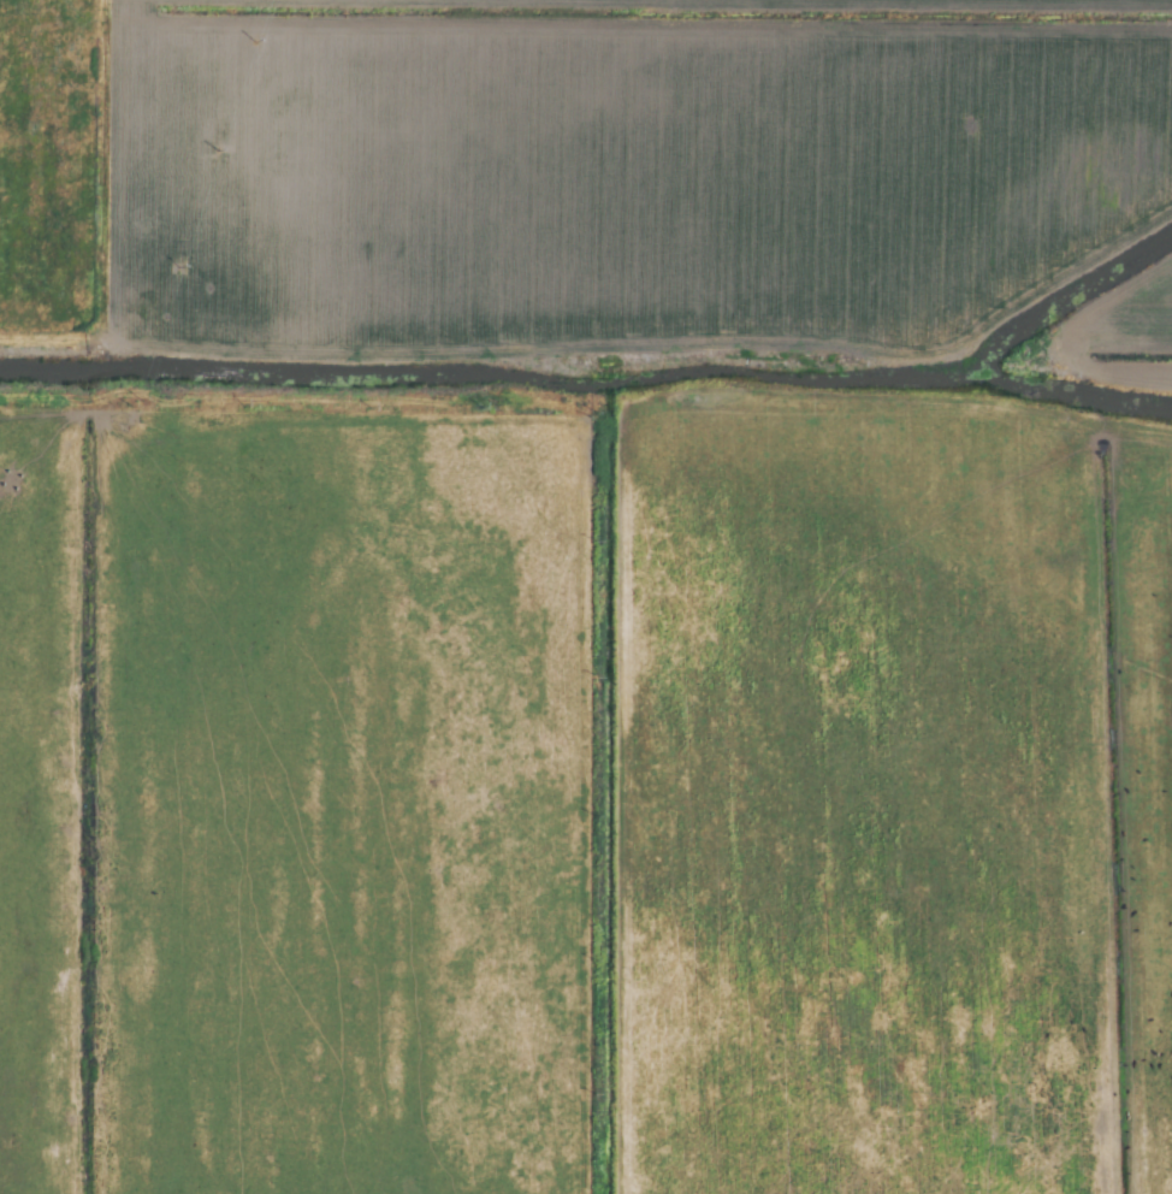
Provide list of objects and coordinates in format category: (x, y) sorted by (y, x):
crop: (586, 597)

